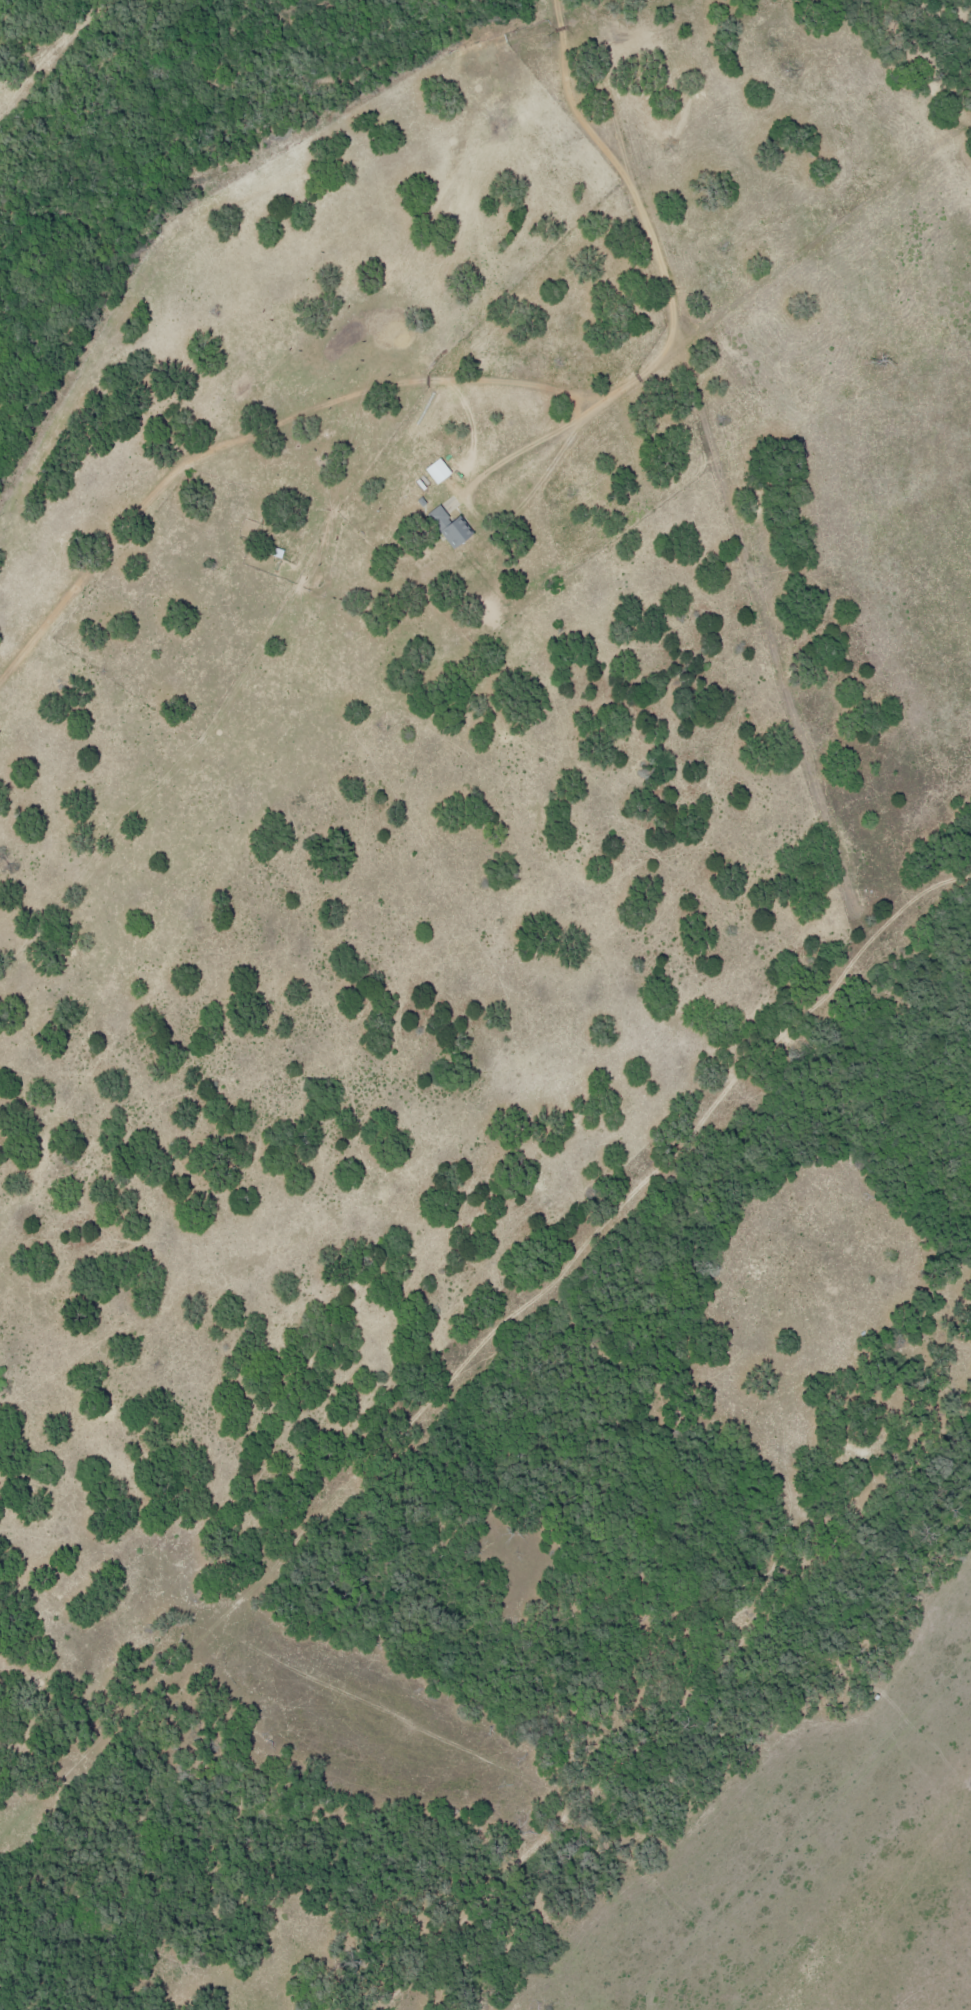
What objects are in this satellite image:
road: (913, 58)
road: (471, 384)
building: (437, 472)
building: (452, 529)

